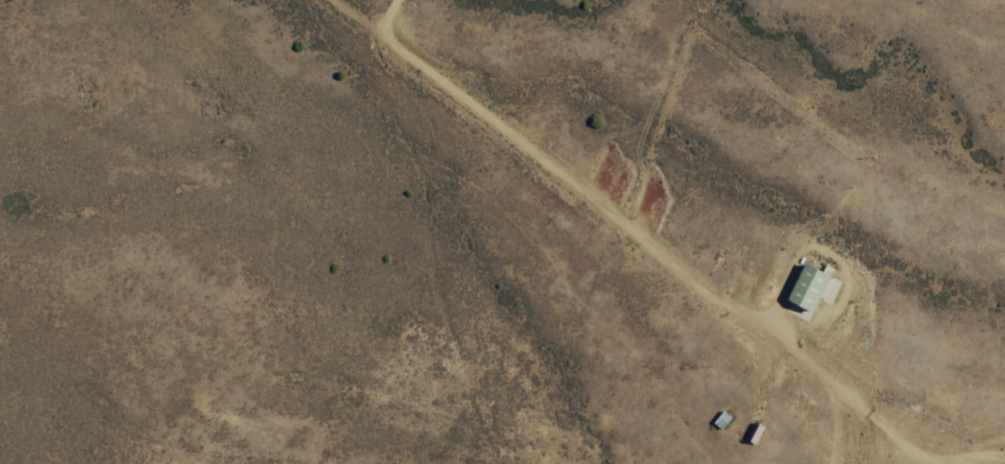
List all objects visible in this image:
road: (656, 239)

